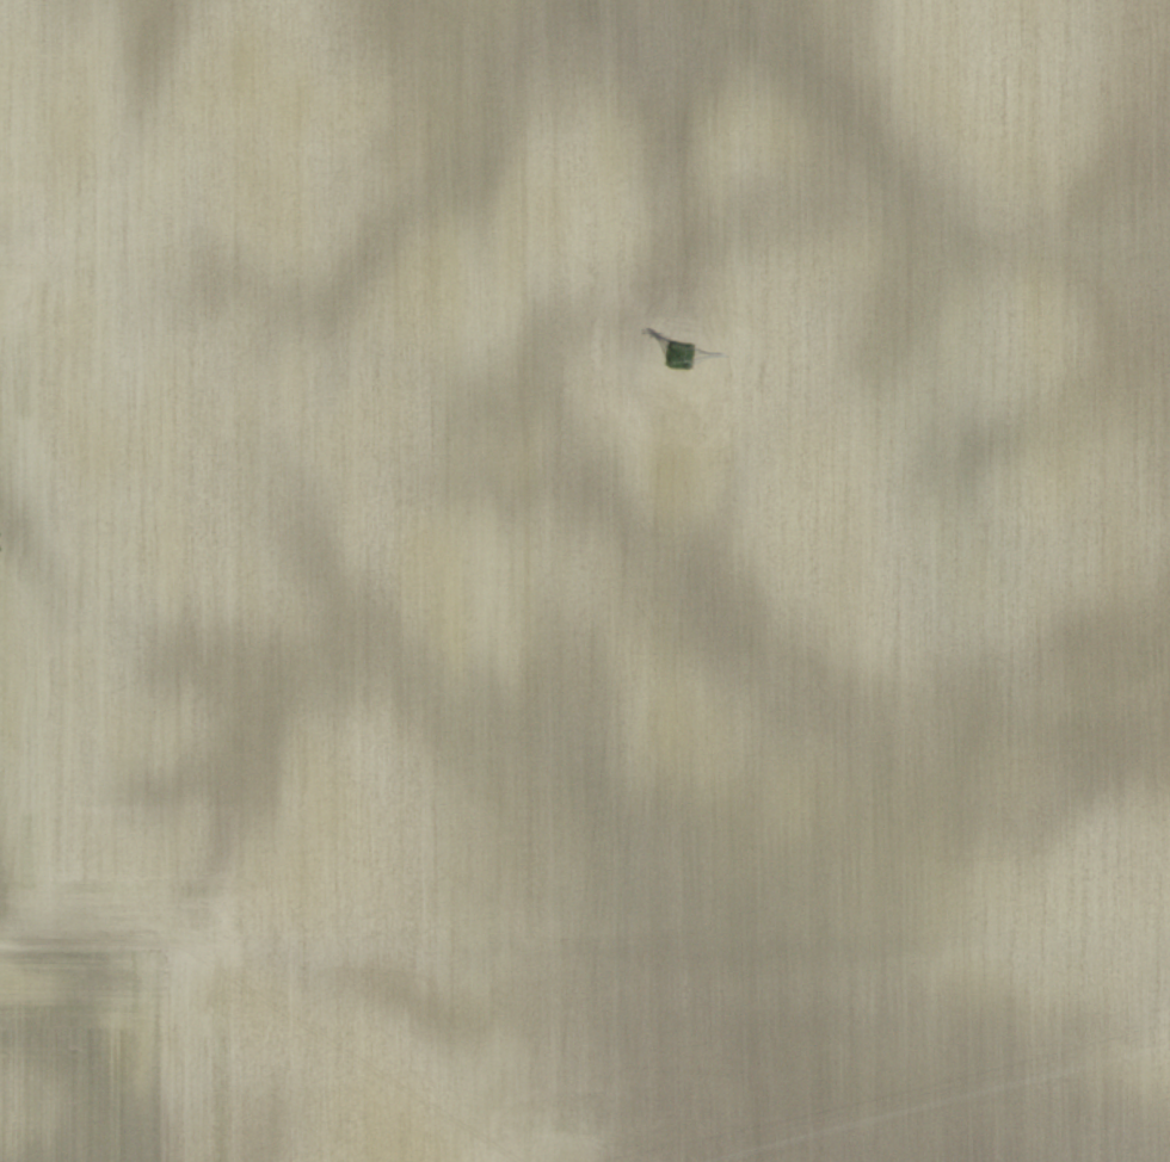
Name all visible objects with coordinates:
power tower: (676, 356)

